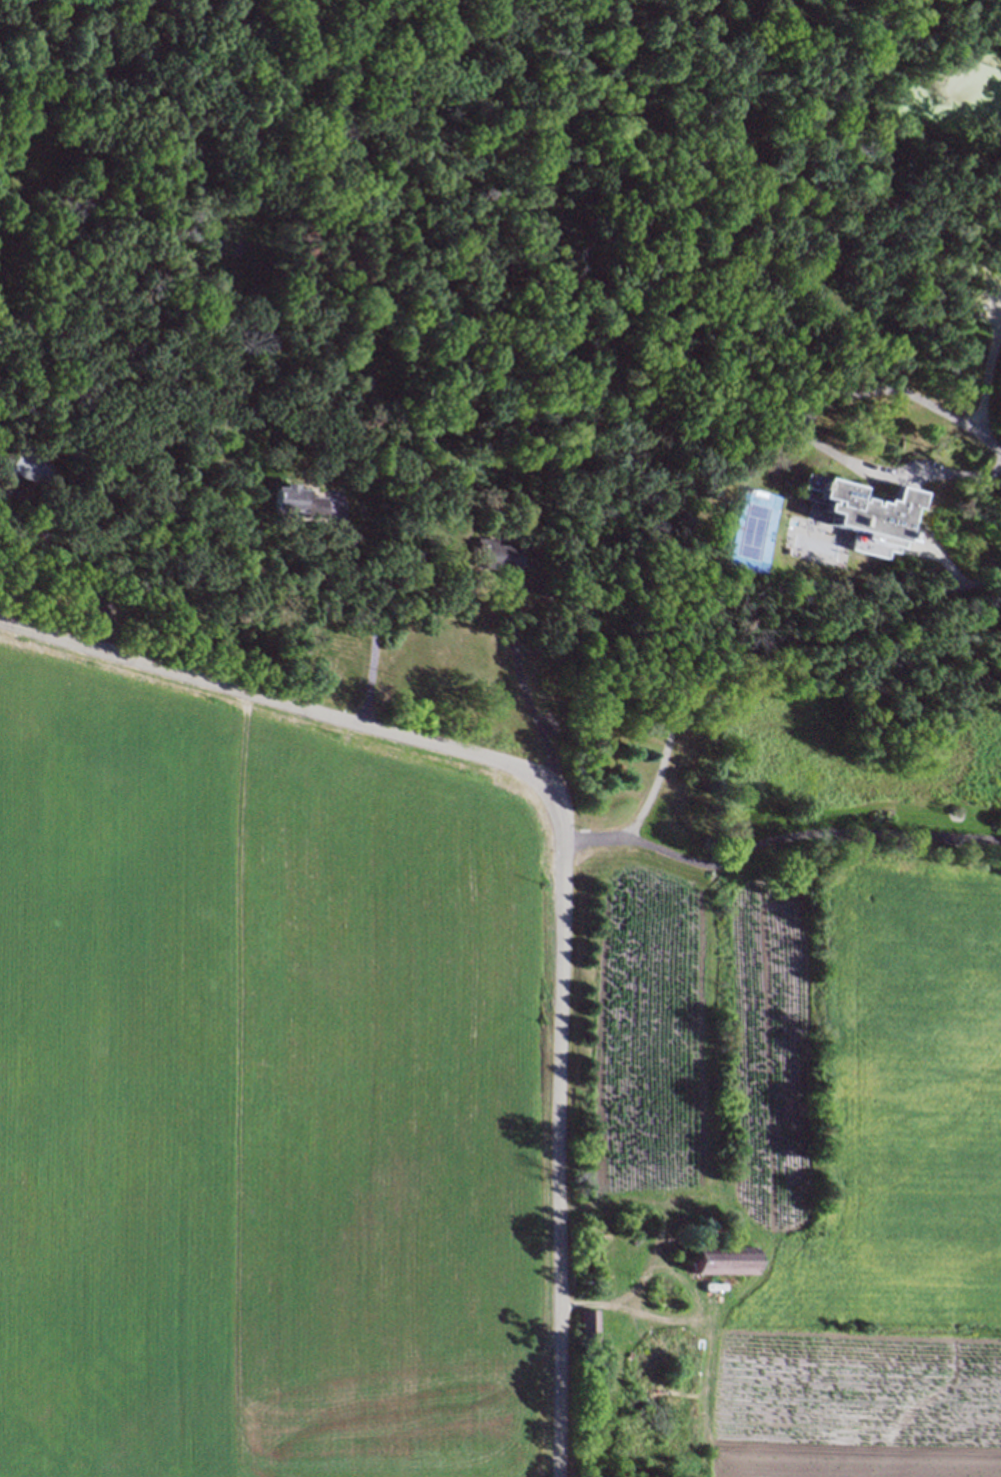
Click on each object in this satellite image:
building: (2, 338)
building: (358, 382)
building: (27, 464)
building: (294, 501)
building: (860, 511)
building: (811, 546)
building: (495, 553)
road: (72, 569)
building: (547, 591)
road: (370, 614)
road: (748, 646)
road: (523, 692)
road: (777, 838)
road: (565, 843)
crop: (264, 1097)
crop: (785, 1175)
building: (719, 1259)
building: (664, 1296)
building: (586, 1330)

